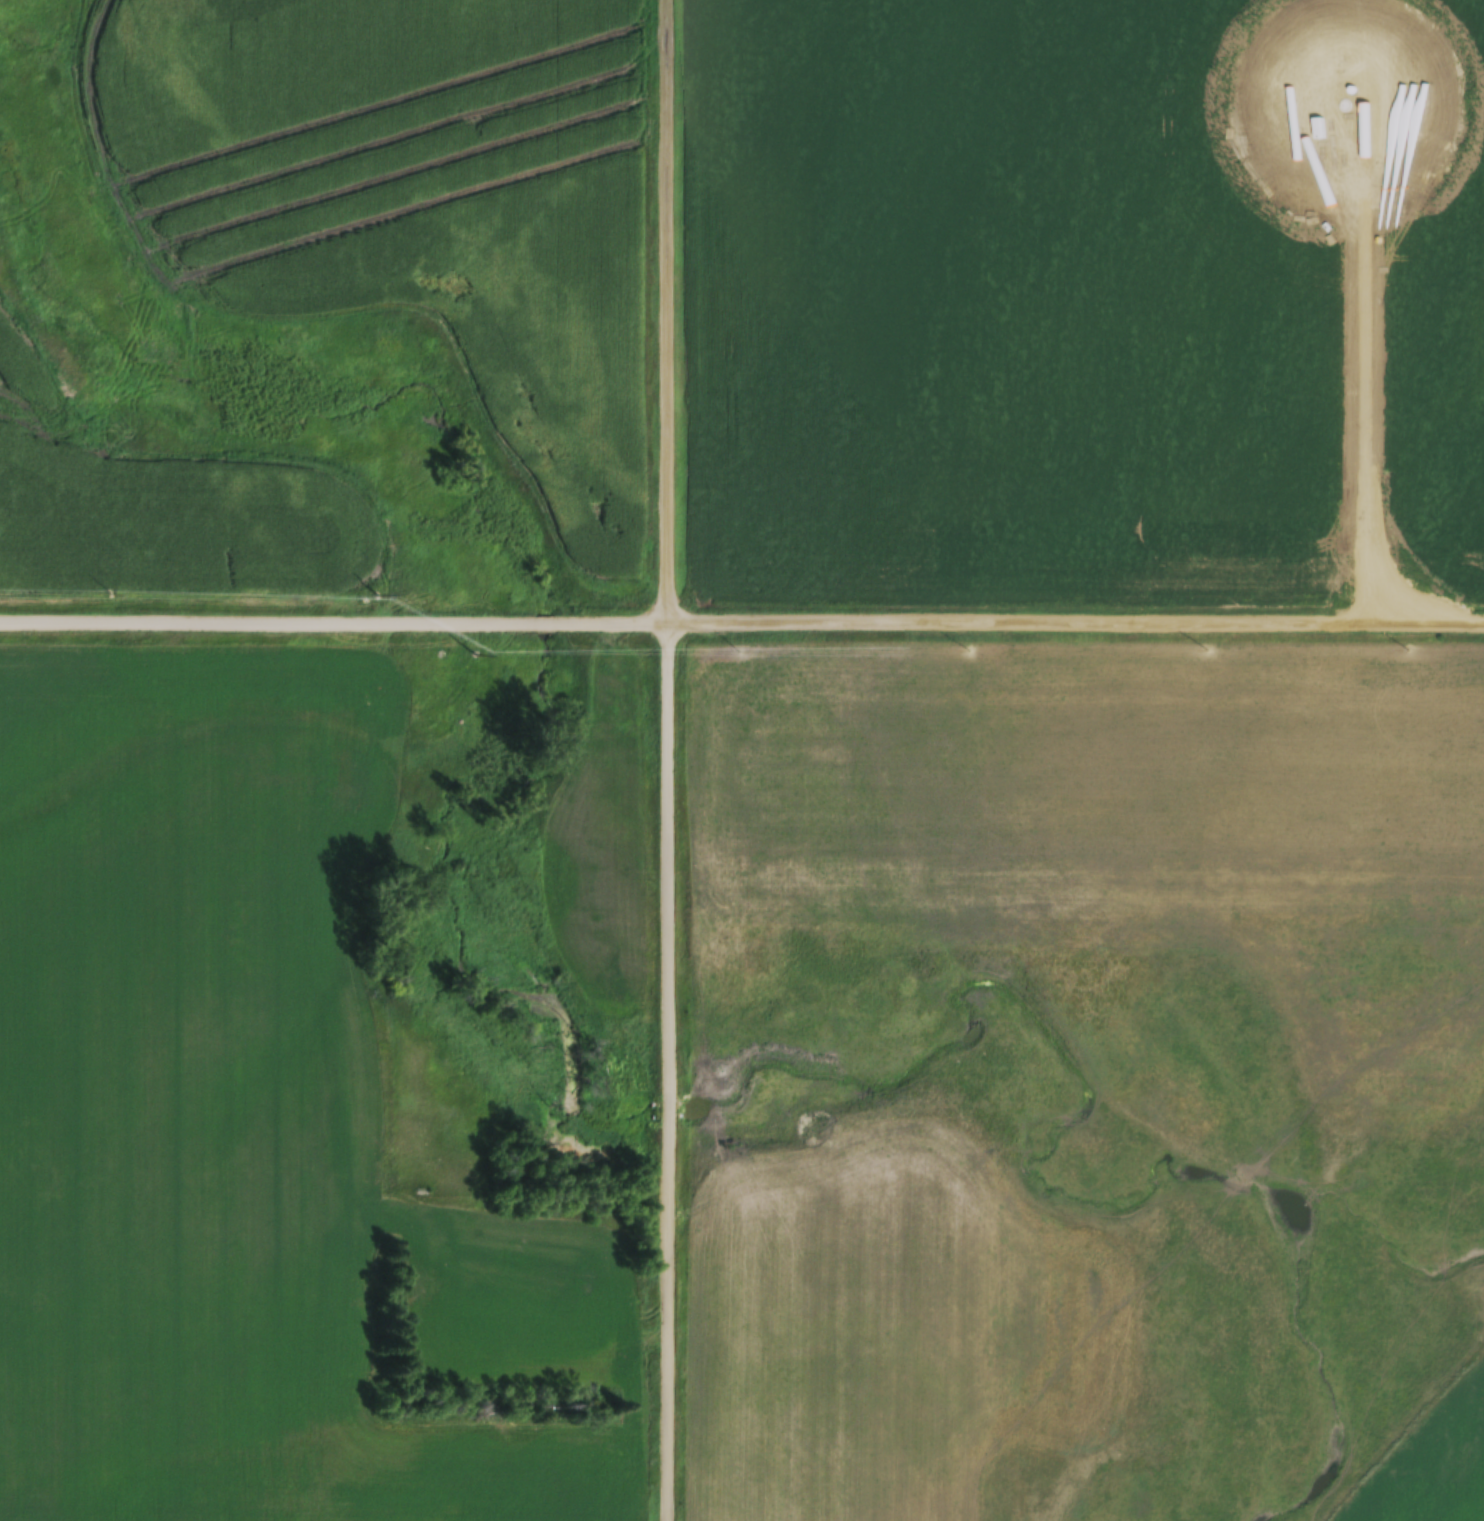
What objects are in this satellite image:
wind turbine: (1342, 108)
road: (742, 621)
road: (669, 760)

